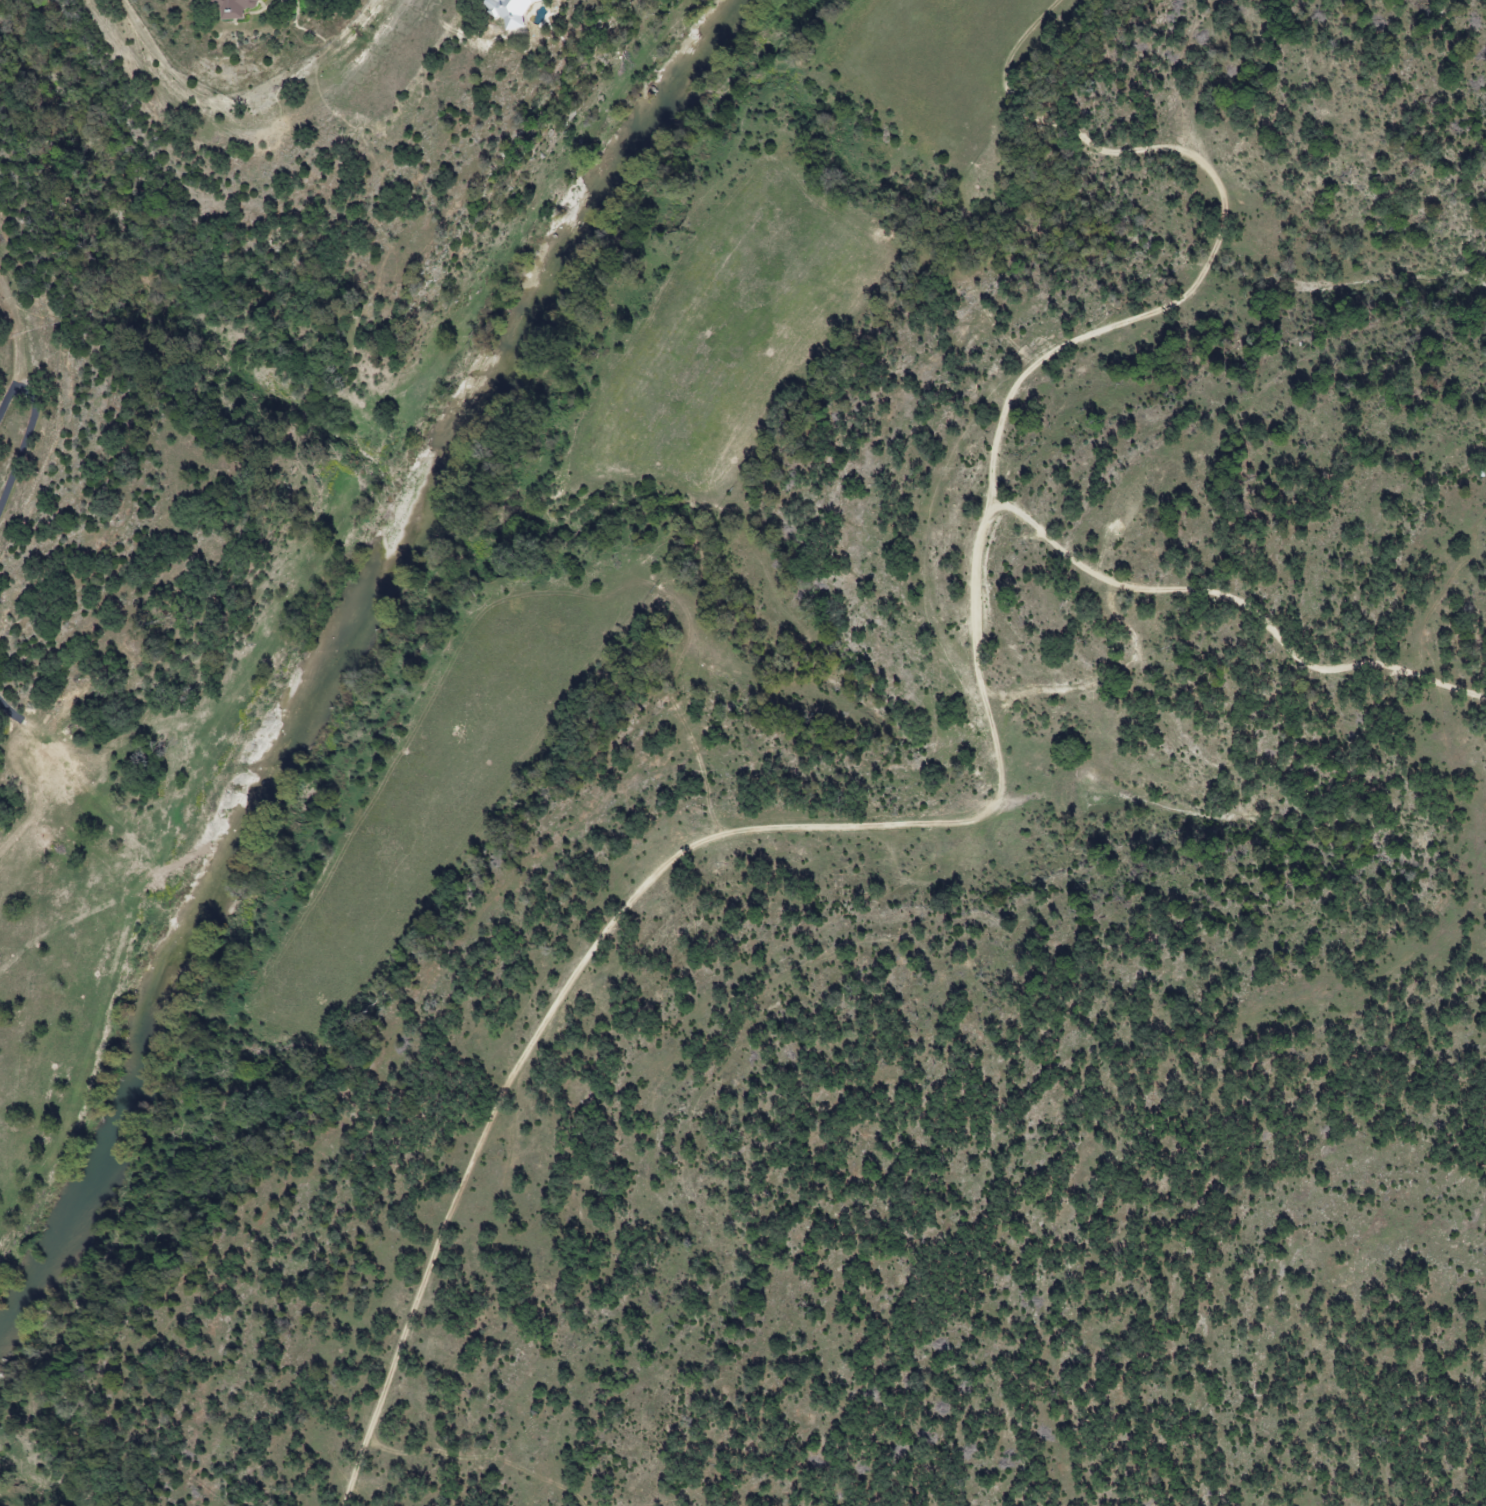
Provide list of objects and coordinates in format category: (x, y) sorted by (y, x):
building: (235, 8)
building: (510, 11)
river: (342, 640)

